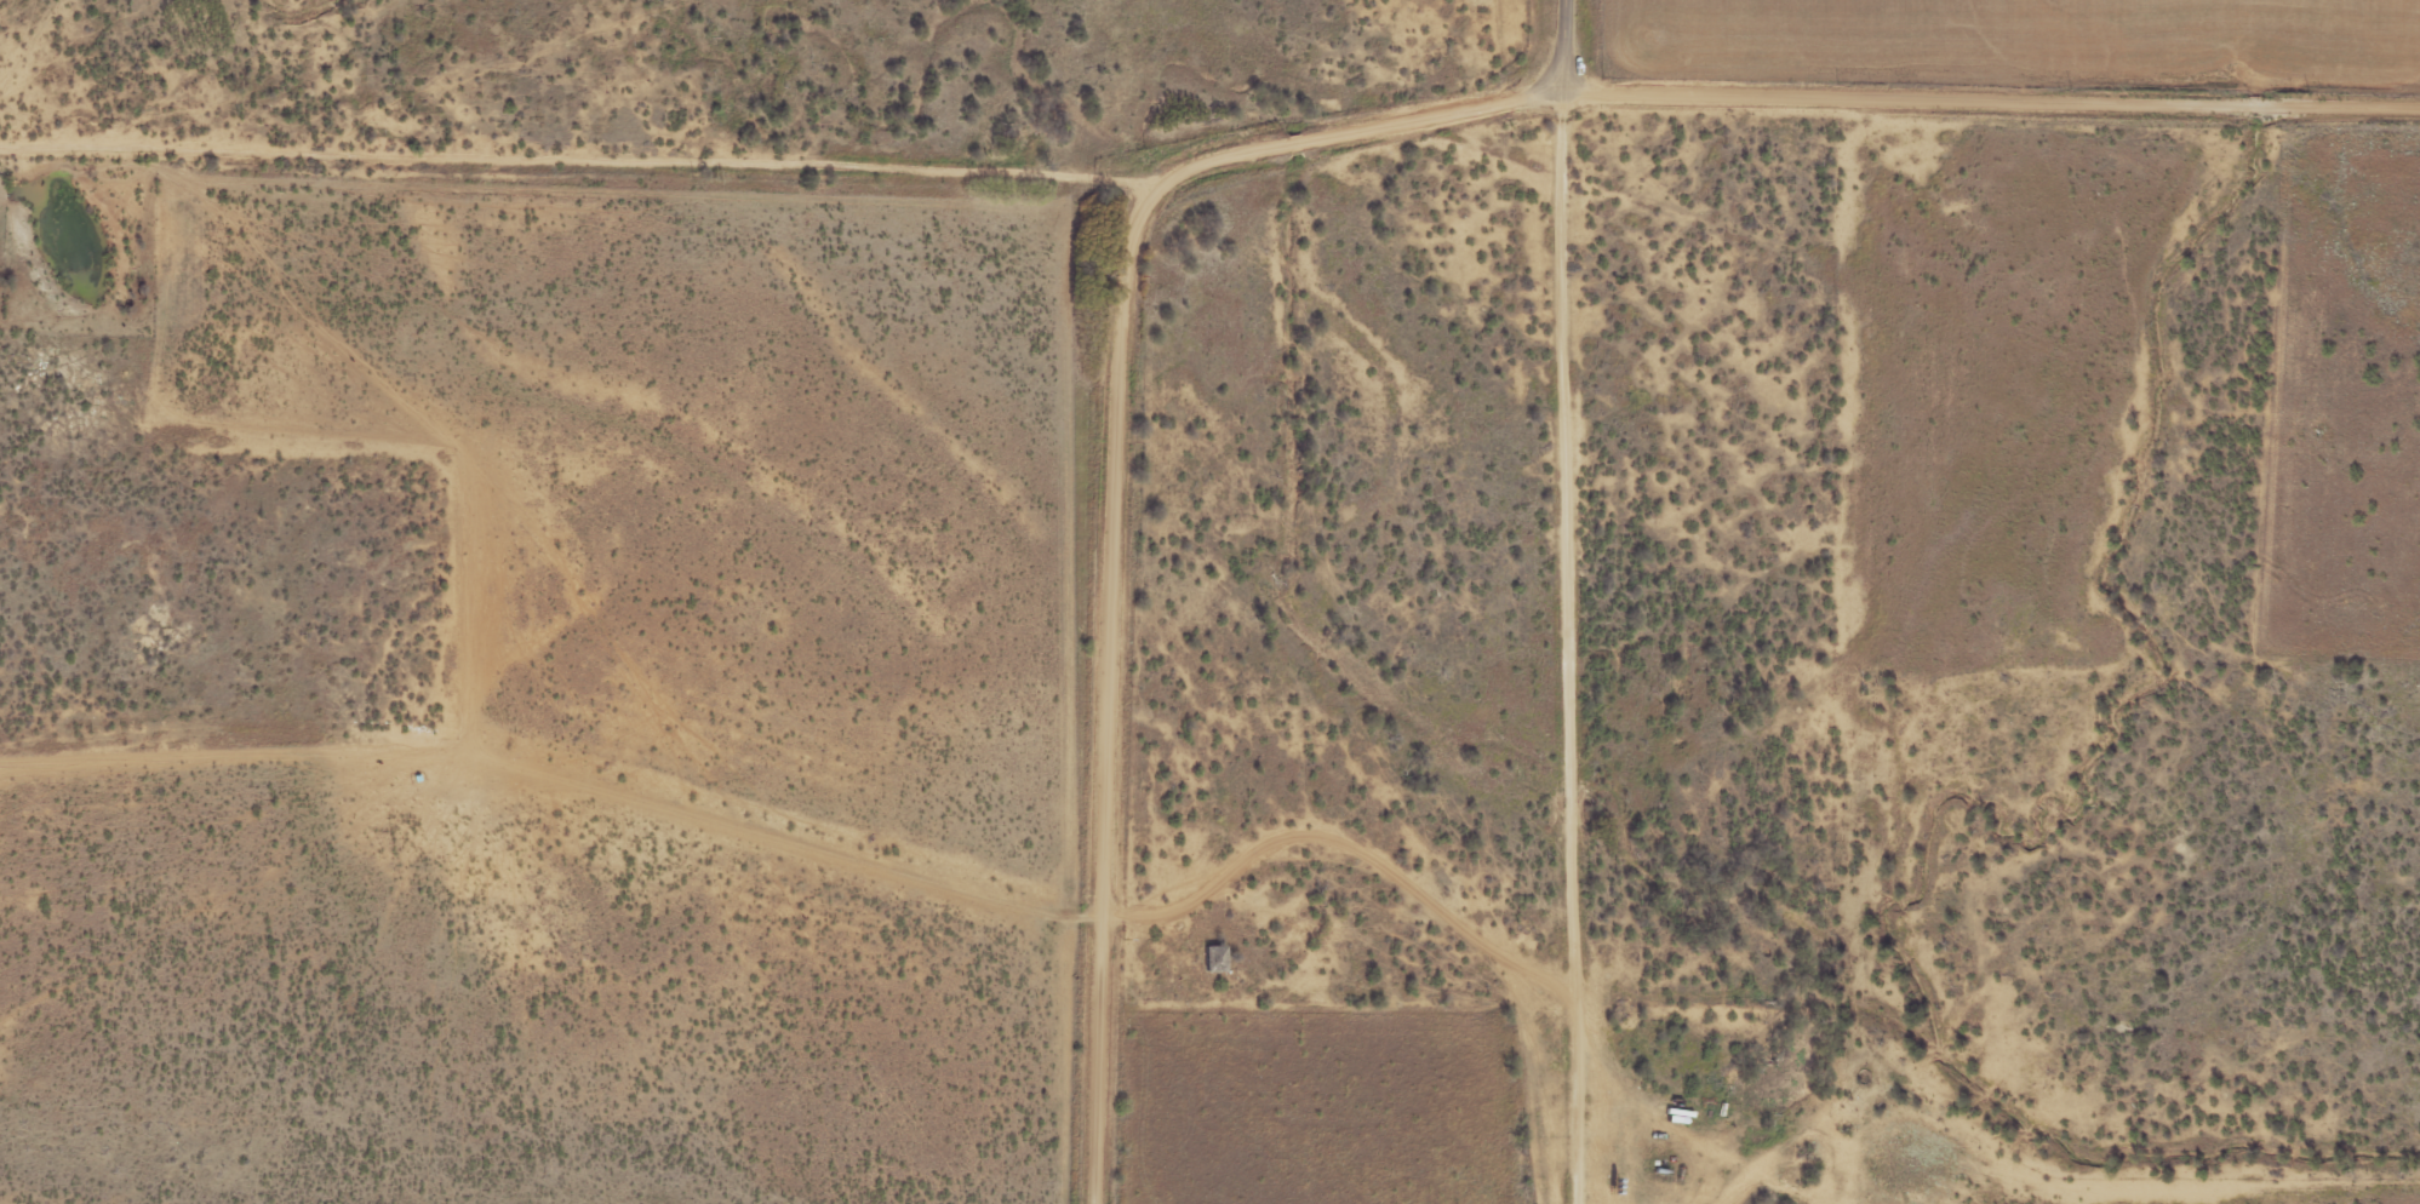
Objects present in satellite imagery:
road: (1560, 46)
road: (1761, 93)
road: (572, 189)
road: (1110, 715)
road: (1549, 717)
road: (1527, 1049)

